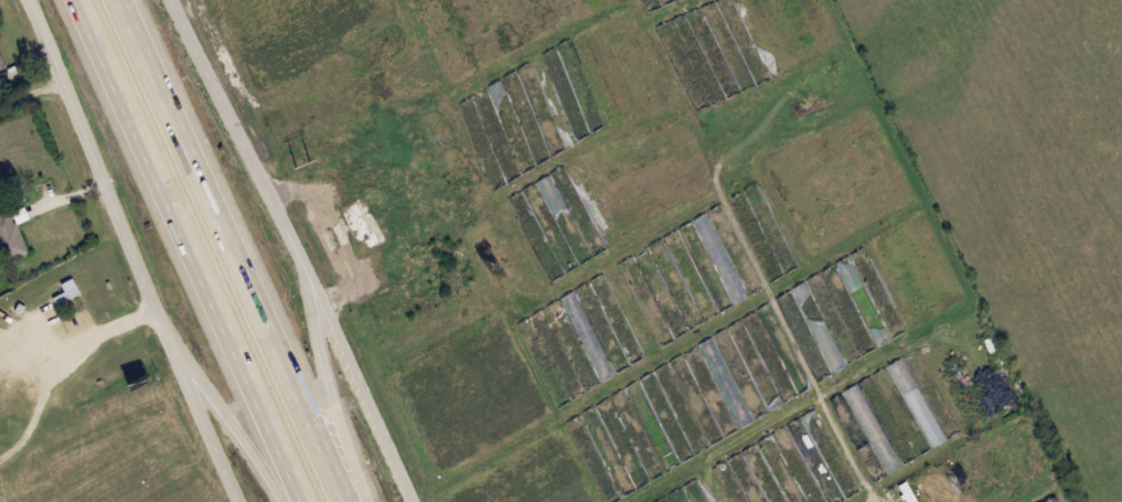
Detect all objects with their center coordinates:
building: (652, 3)
building: (710, 53)
building: (1, 64)
road: (31, 99)
building: (590, 117)
road: (90, 154)
road: (61, 196)
building: (569, 217)
building: (9, 239)
building: (535, 241)
road: (295, 248)
road: (238, 250)
road: (185, 252)
building: (64, 292)
building: (669, 311)
building: (652, 320)
road: (92, 335)
building: (585, 337)
building: (612, 351)
building: (549, 357)
road: (321, 362)
building: (714, 366)
building: (688, 386)
building: (921, 398)
road: (197, 405)
road: (228, 419)
building: (885, 419)
building: (590, 460)
building: (1056, 501)

